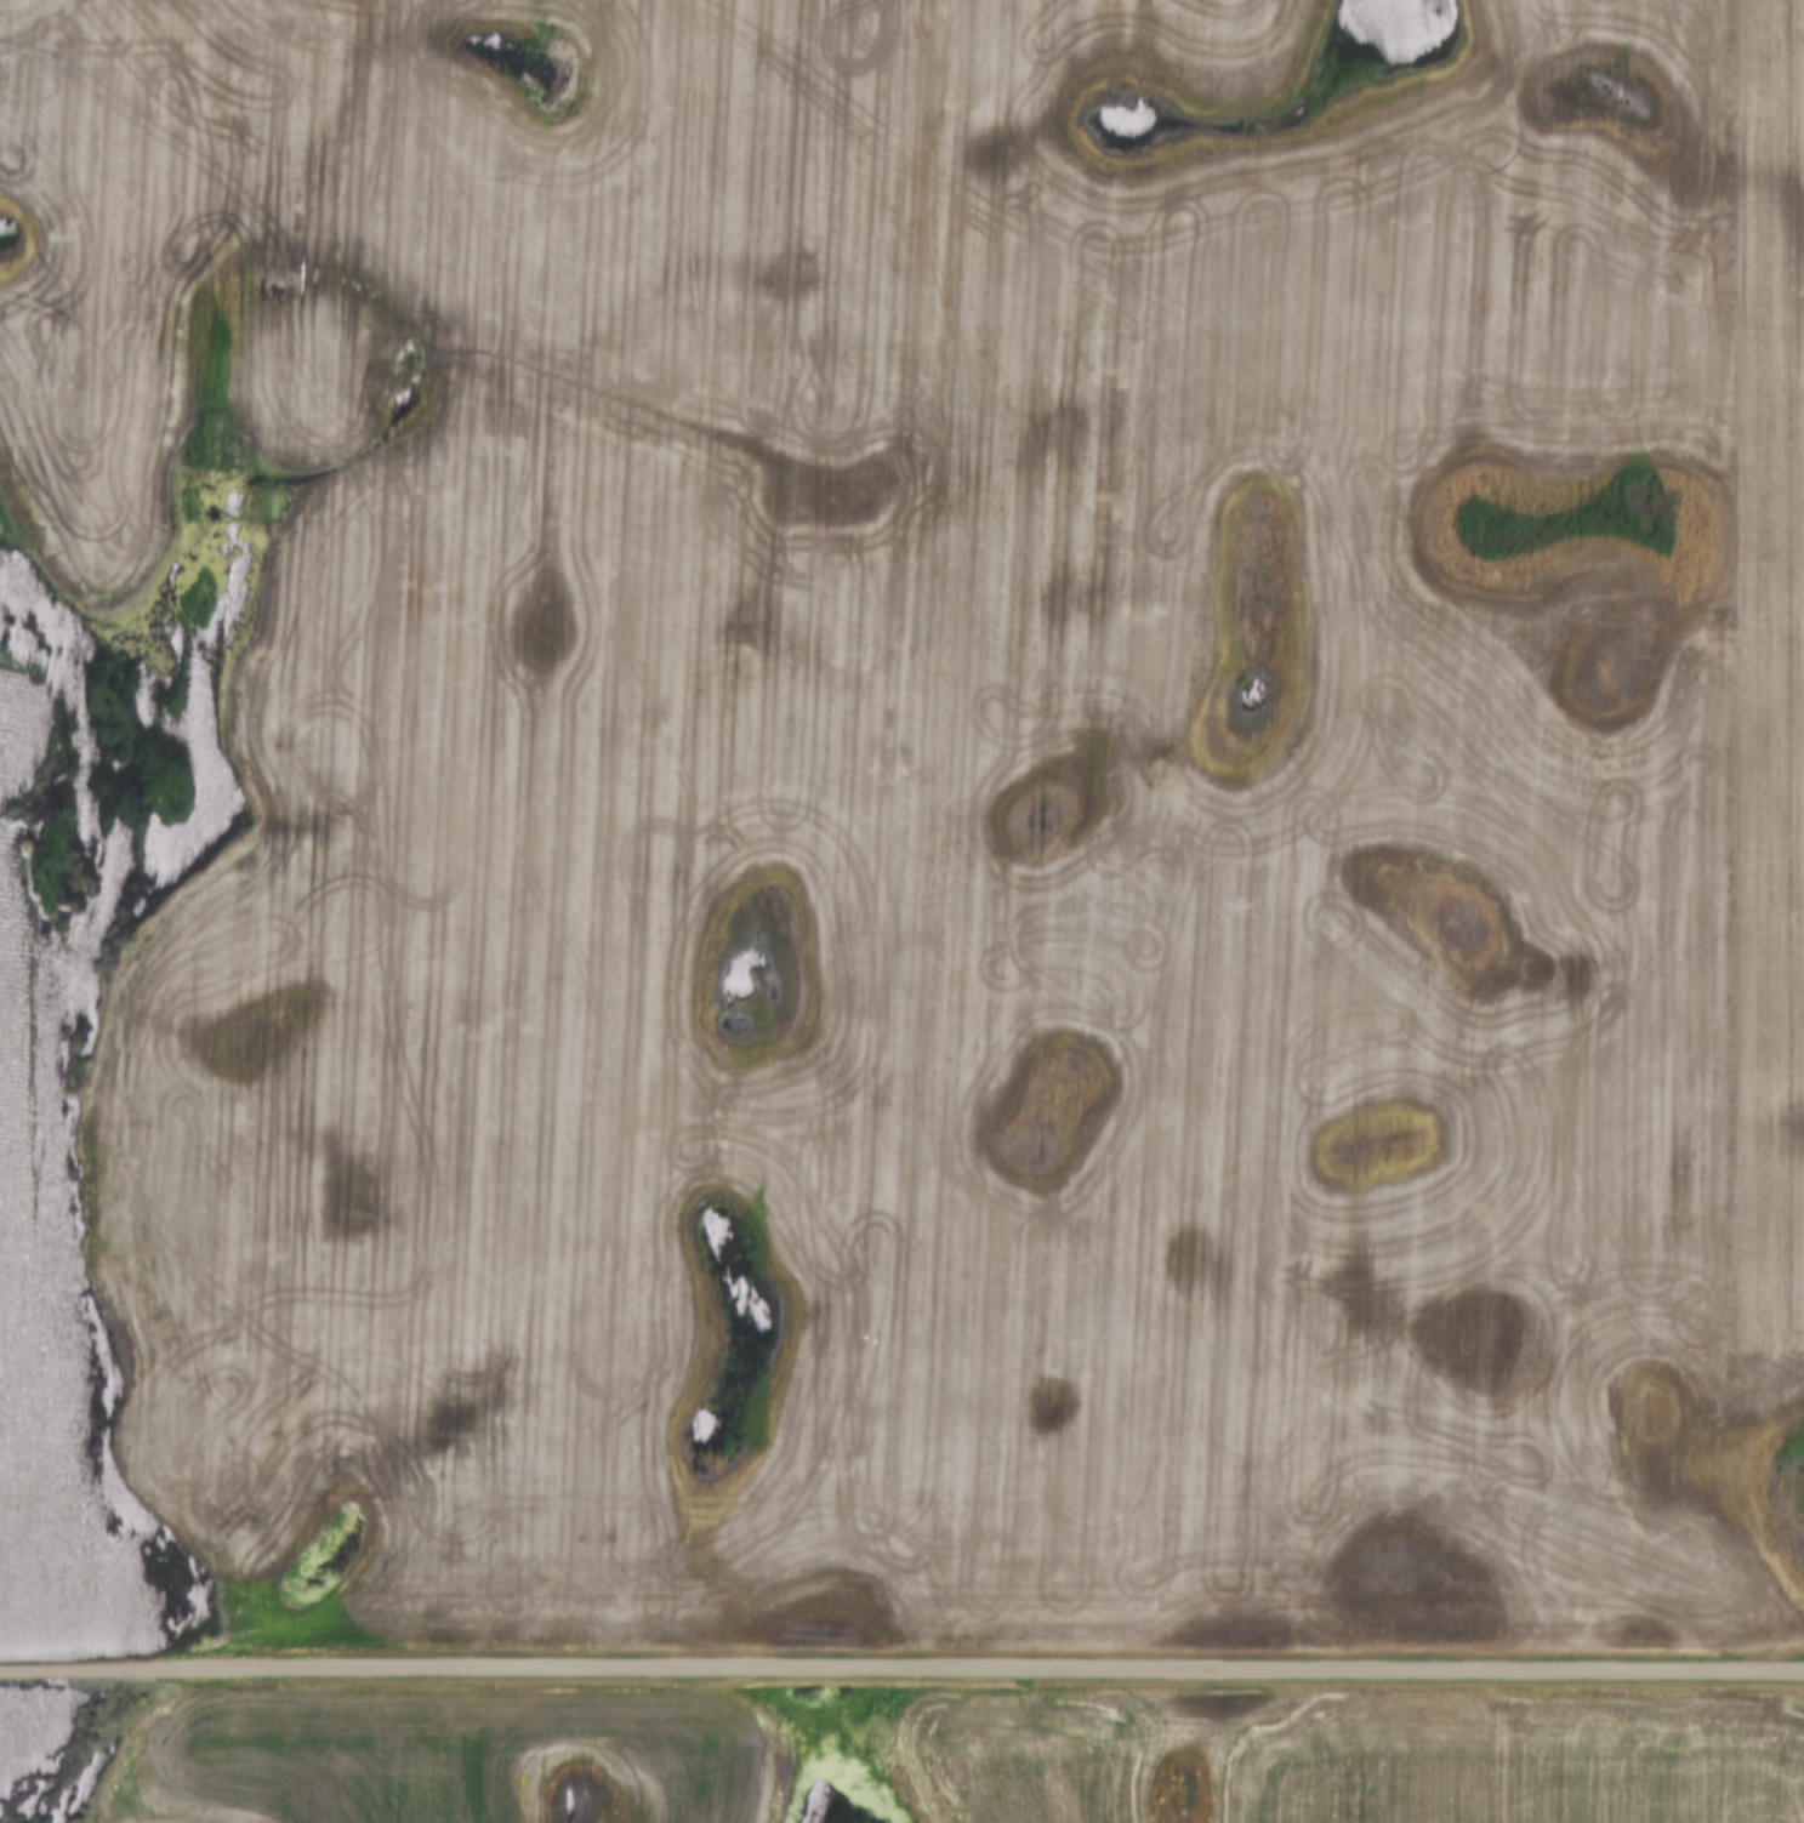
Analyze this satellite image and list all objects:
road: (901, 1668)

